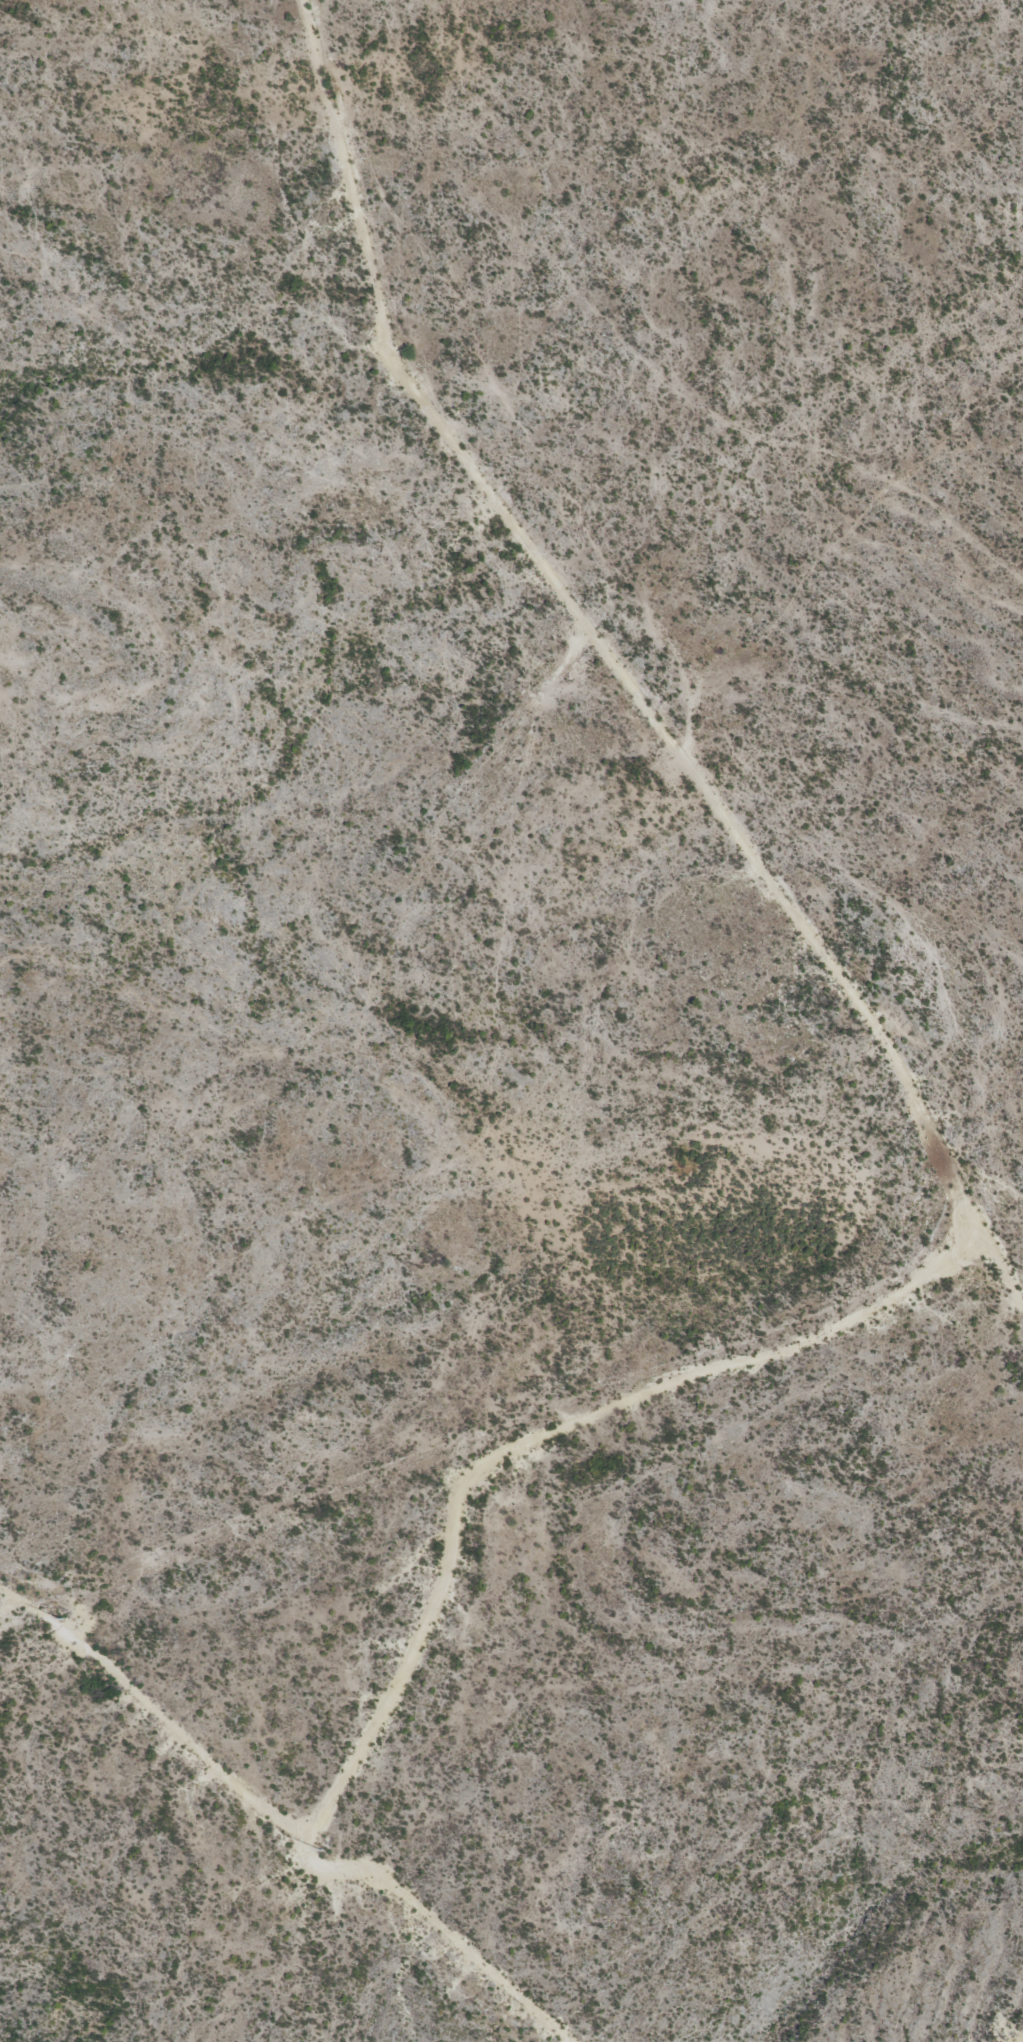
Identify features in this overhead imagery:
power tower: (59, 1616)
power tower: (322, 1847)

